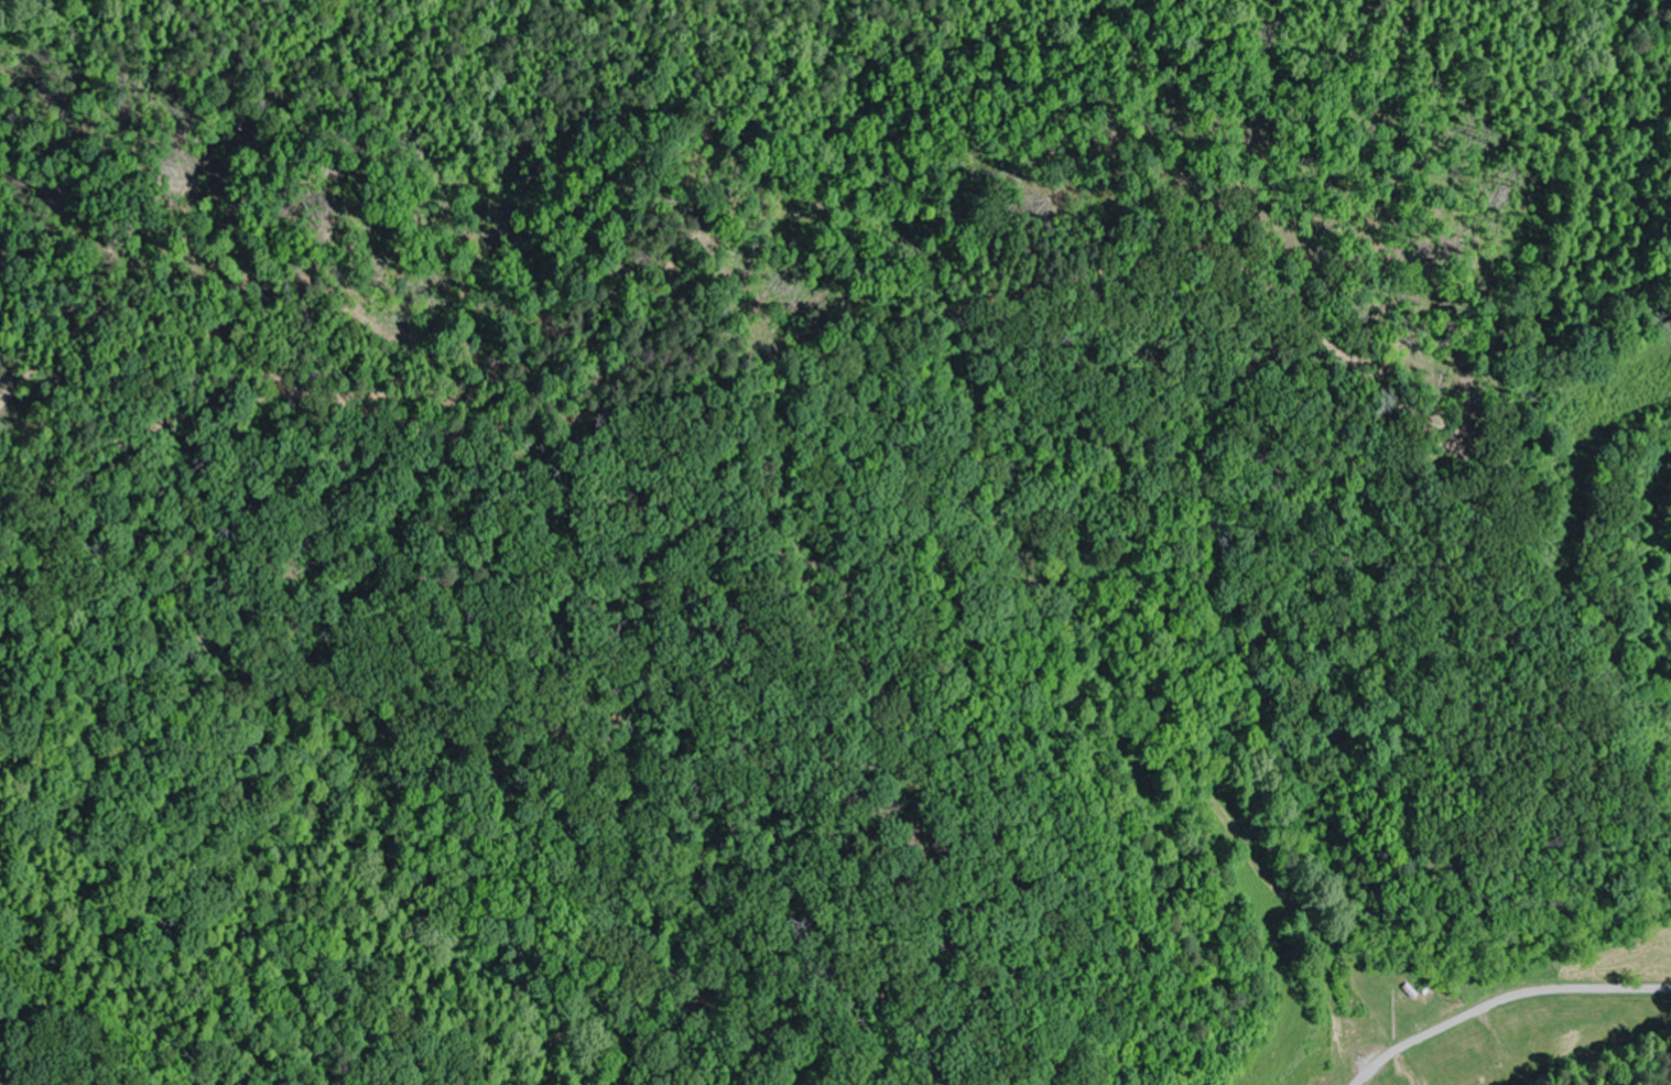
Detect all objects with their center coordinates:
road: (1502, 1000)

